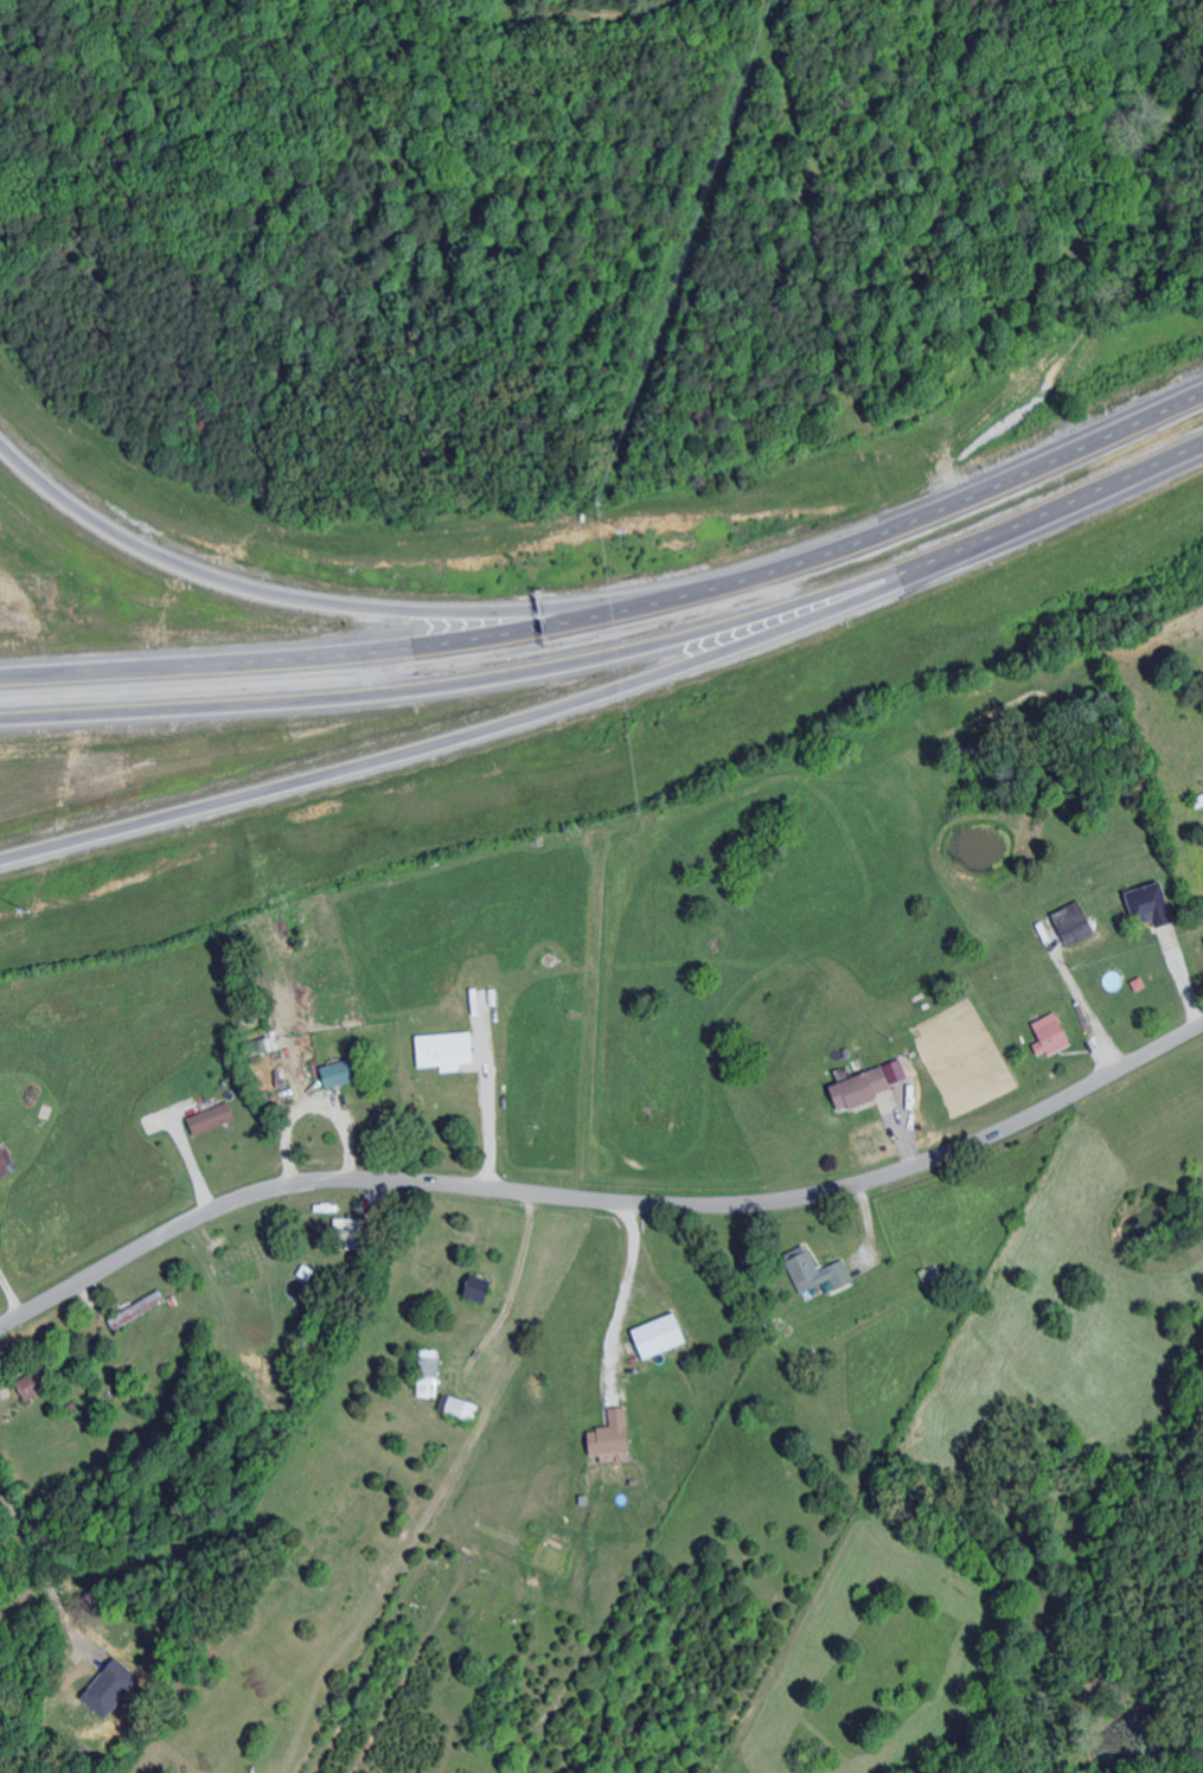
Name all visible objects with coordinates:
road: (956, 500)
road: (1055, 511)
road: (331, 604)
road: (353, 652)
road: (459, 683)
road: (461, 738)
building: (1144, 904)
building: (1069, 923)
building: (1045, 1036)
building: (440, 1051)
building: (331, 1075)
building: (277, 1078)
building: (862, 1086)
road: (312, 1105)
road: (489, 1114)
building: (207, 1119)
building: (1, 1161)
road: (603, 1199)
building: (813, 1273)
building: (474, 1289)
road: (11, 1292)
road: (625, 1298)
building: (135, 1308)
building: (654, 1336)
building: (425, 1374)
building: (457, 1409)
building: (607, 1435)
road: (50, 1579)
building: (107, 1694)

